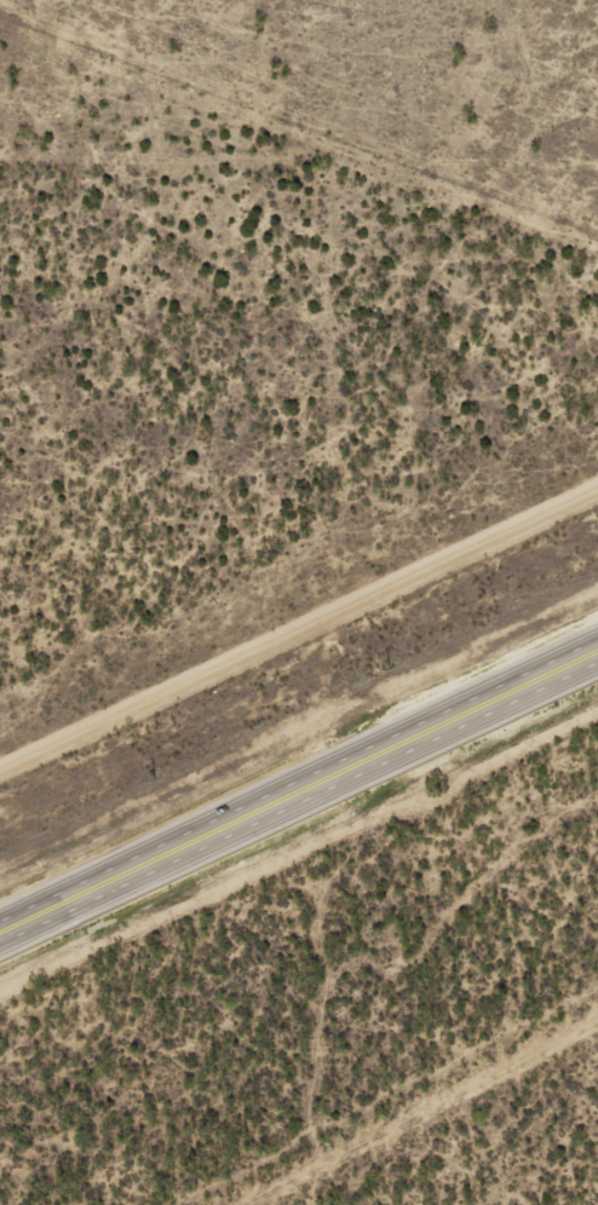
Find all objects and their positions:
power tower: (389, 668)
power tower: (153, 779)
road: (299, 791)

